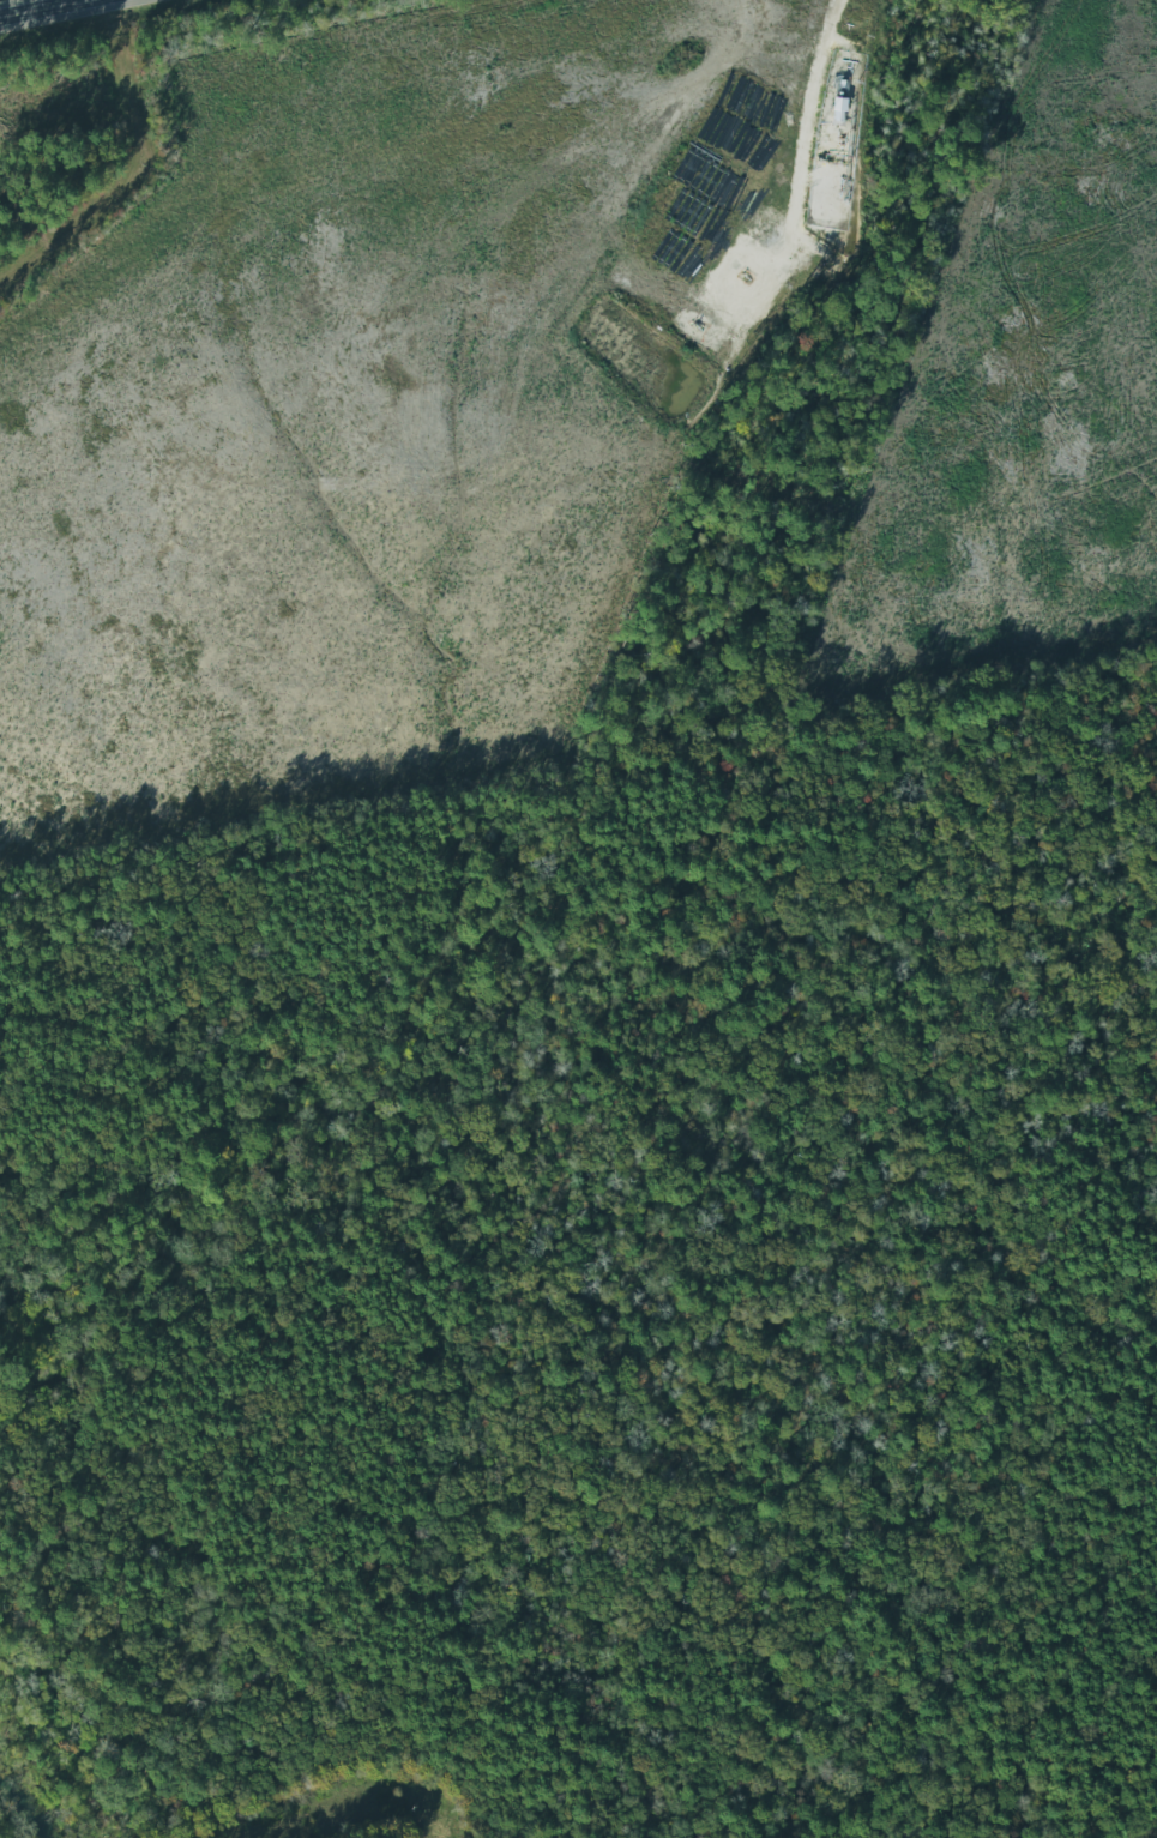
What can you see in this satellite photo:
road: (37, 7)
road: (803, 132)

